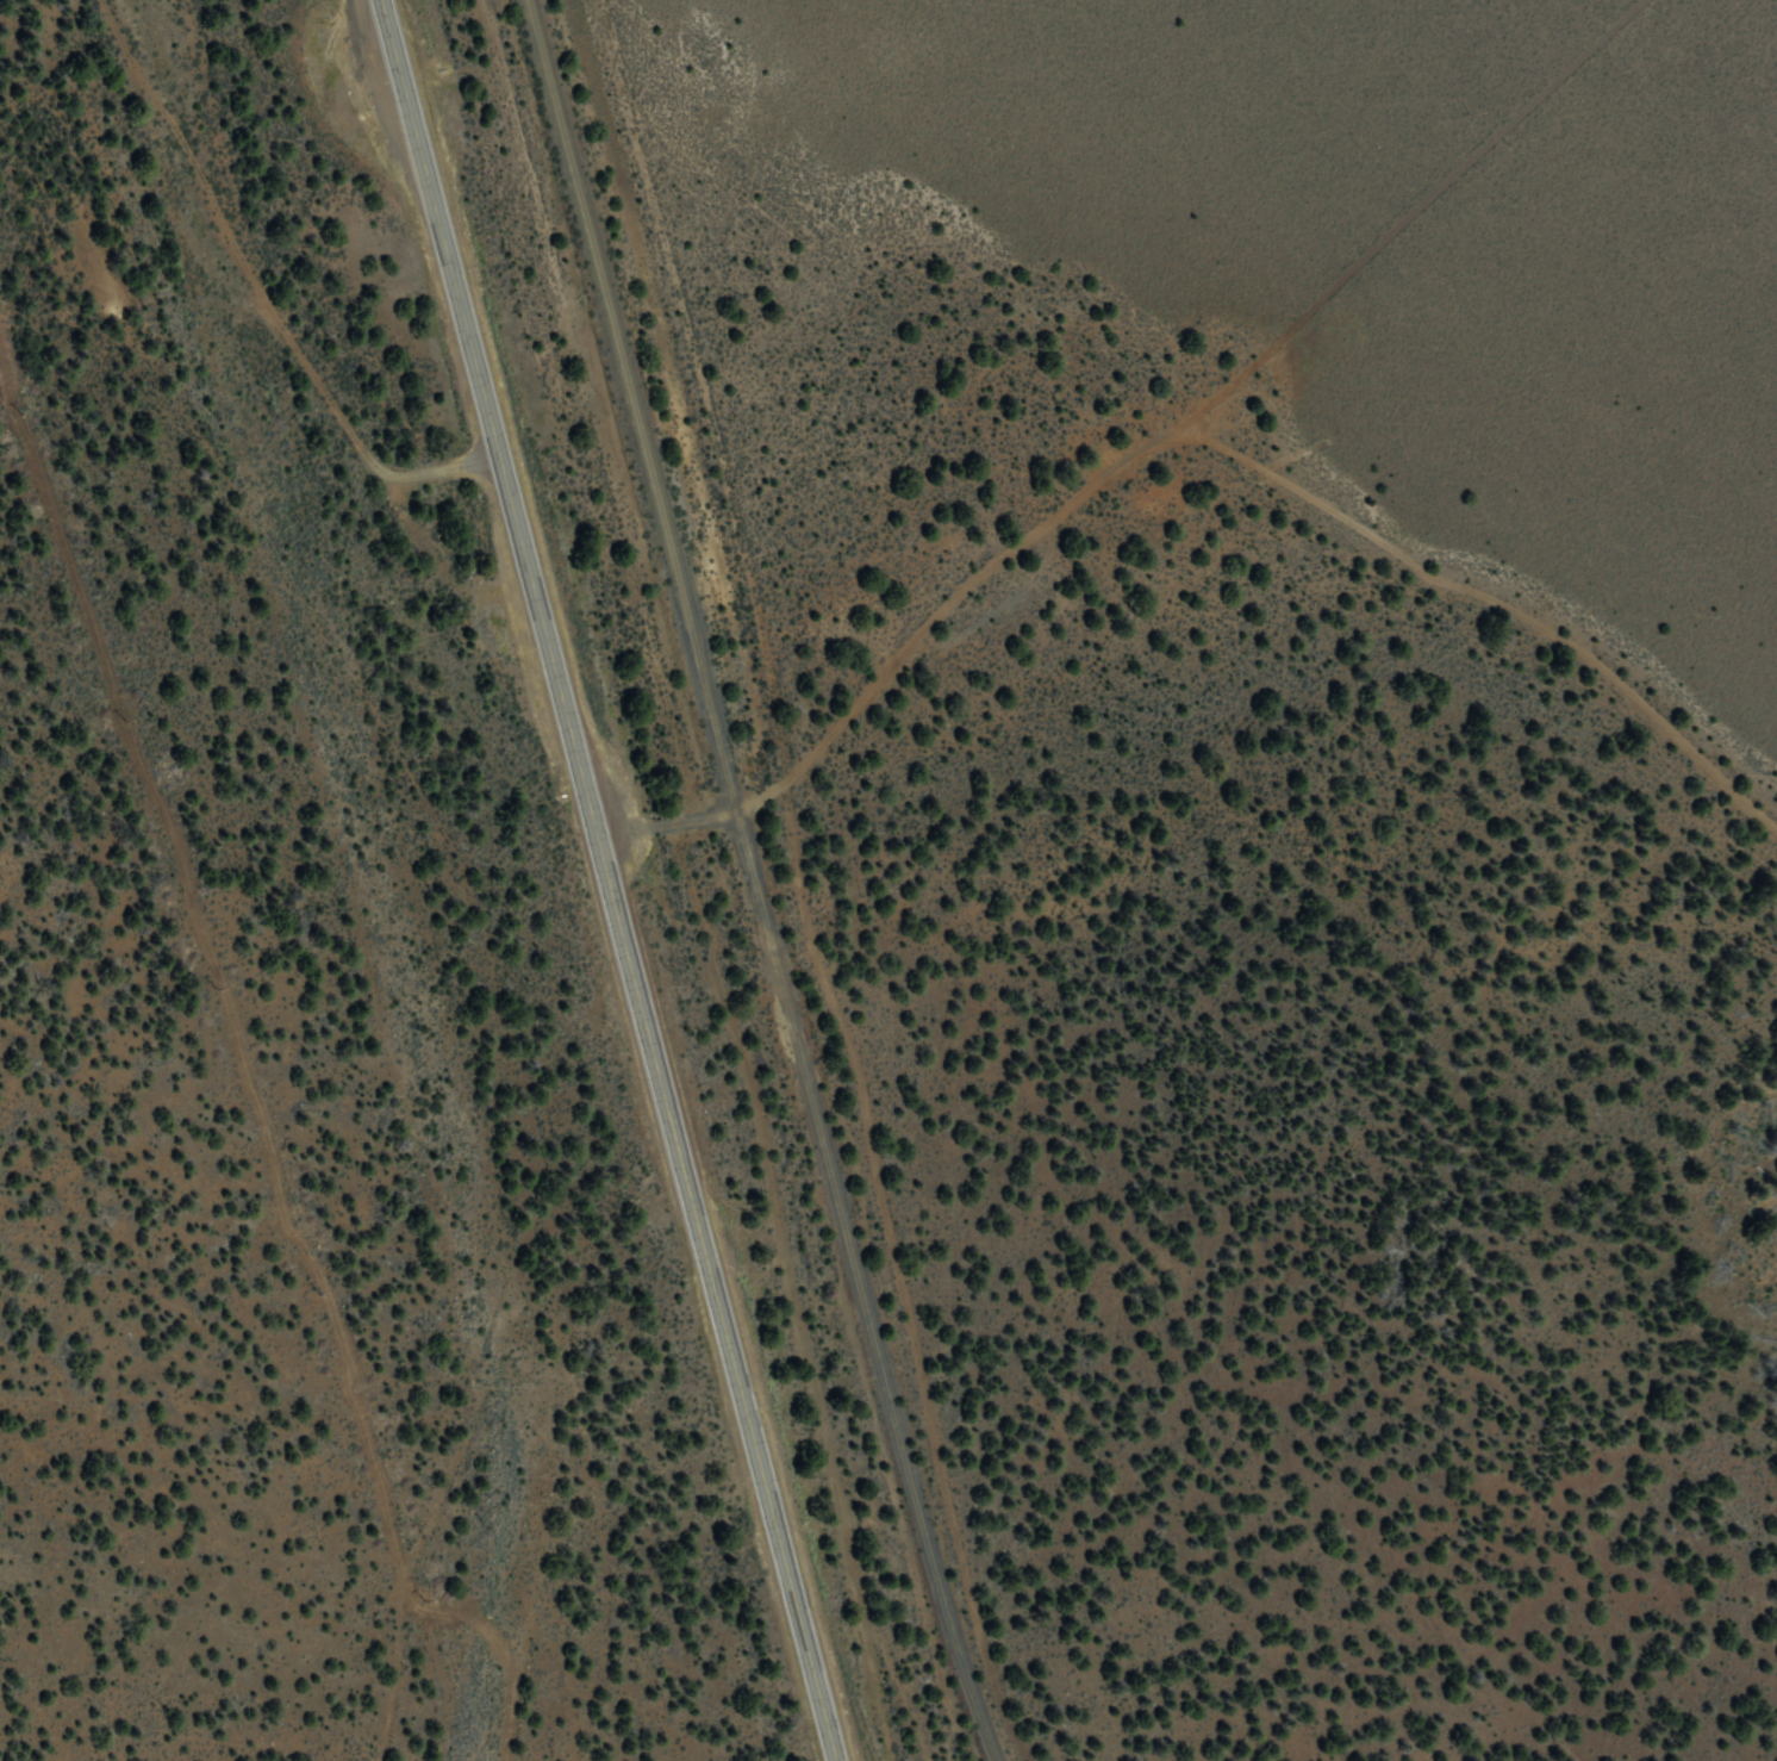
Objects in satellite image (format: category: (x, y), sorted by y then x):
road: (1414, 210)
road: (263, 294)
road: (1496, 599)
road: (898, 653)
road: (607, 880)

